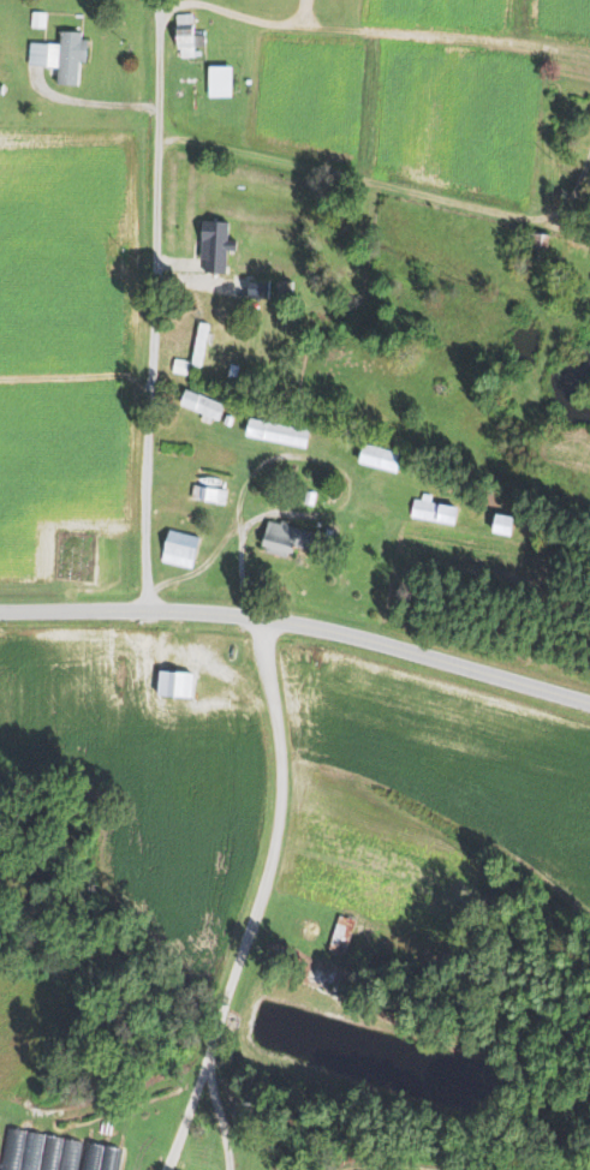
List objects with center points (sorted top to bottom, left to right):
road: (157, 10)
road: (240, 14)
crop: (441, 16)
building: (38, 19)
crop: (559, 22)
building: (187, 35)
road: (430, 35)
building: (59, 56)
building: (220, 77)
building: (1, 88)
crop: (308, 95)
road: (95, 102)
crop: (460, 119)
road: (373, 183)
road: (570, 199)
building: (536, 244)
building: (215, 245)
crop: (68, 250)
road: (197, 280)
building: (258, 287)
building: (284, 287)
road: (151, 315)
road: (168, 320)
building: (199, 344)
building: (180, 366)
building: (232, 370)
road: (75, 378)
building: (203, 405)
building: (227, 420)
building: (276, 431)
building: (380, 456)
road: (327, 460)
crop: (64, 468)
building: (208, 493)
building: (309, 497)
building: (433, 509)
building: (503, 524)
building: (287, 538)
building: (179, 548)
park: (76, 555)
road: (73, 610)
road: (371, 643)
building: (174, 684)
crop: (150, 782)
crop: (425, 793)
road: (258, 901)
building: (339, 932)
road: (219, 1117)
building: (12, 1148)
building: (31, 1151)
building: (50, 1152)
building: (68, 1153)
building: (93, 1157)
building: (109, 1158)
crop: (368, 1168)

